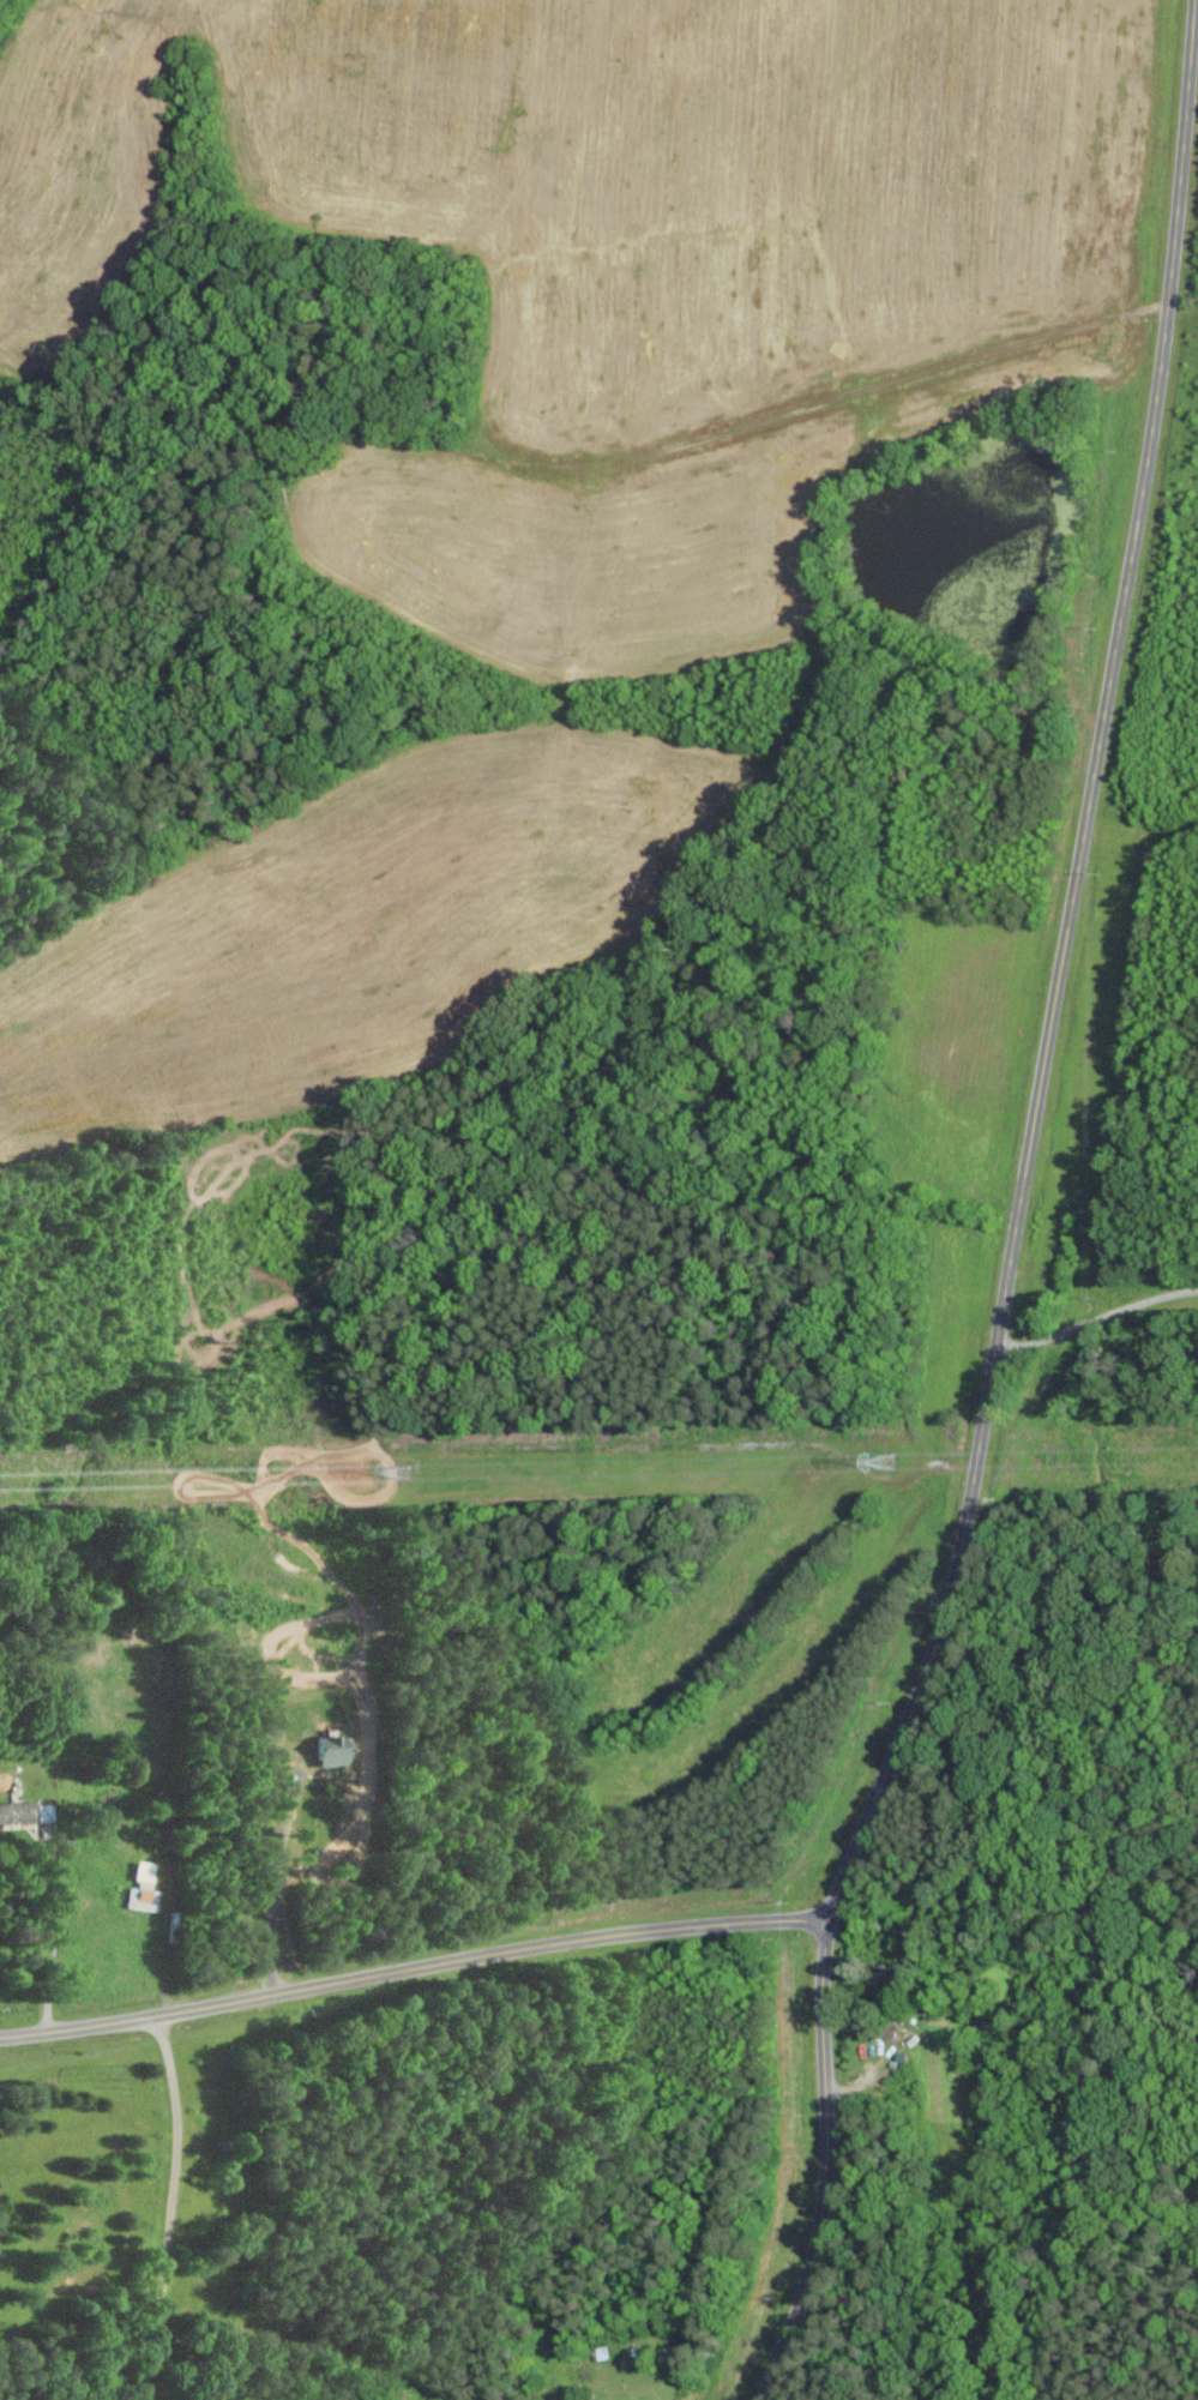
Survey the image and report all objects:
road: (1016, 1213)
road: (1094, 1323)
power tower: (887, 1462)
power tower: (405, 1473)
building: (336, 1751)
building: (47, 1811)
building: (17, 1813)
building: (145, 1888)
road: (281, 1888)
road: (55, 1939)
road: (411, 1972)
building: (874, 2026)
road: (866, 2070)
road: (173, 2206)

